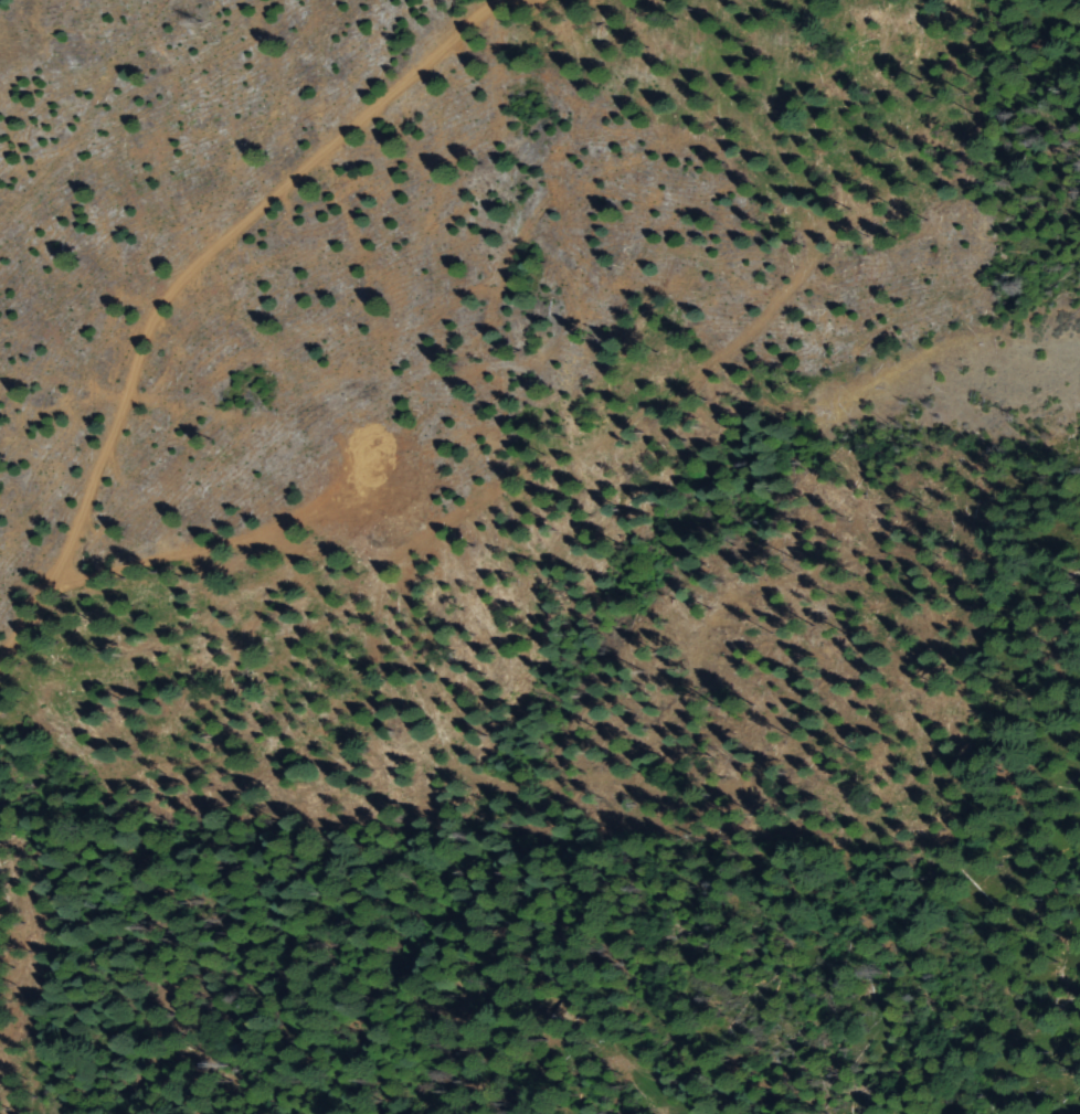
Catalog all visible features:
road: (178, 257)
building: (573, 1009)

